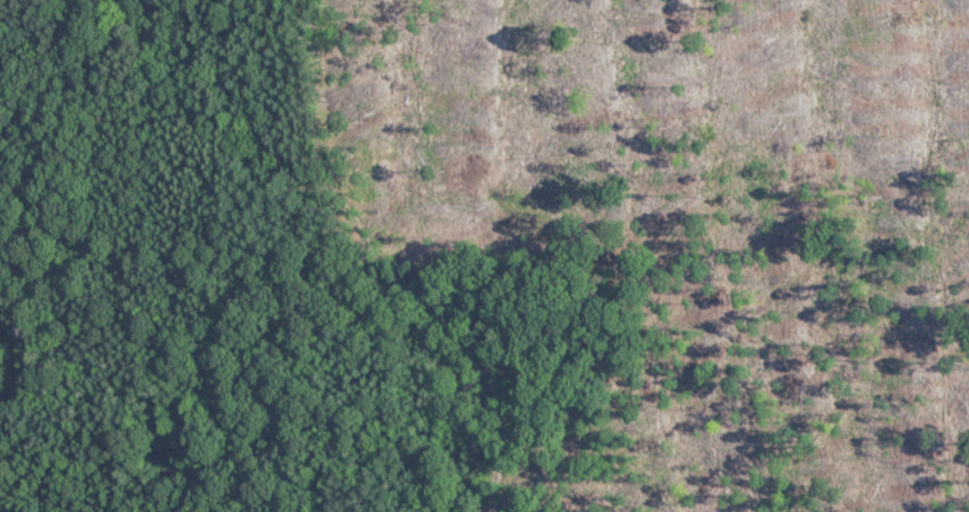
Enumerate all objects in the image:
park: (484, 256)

